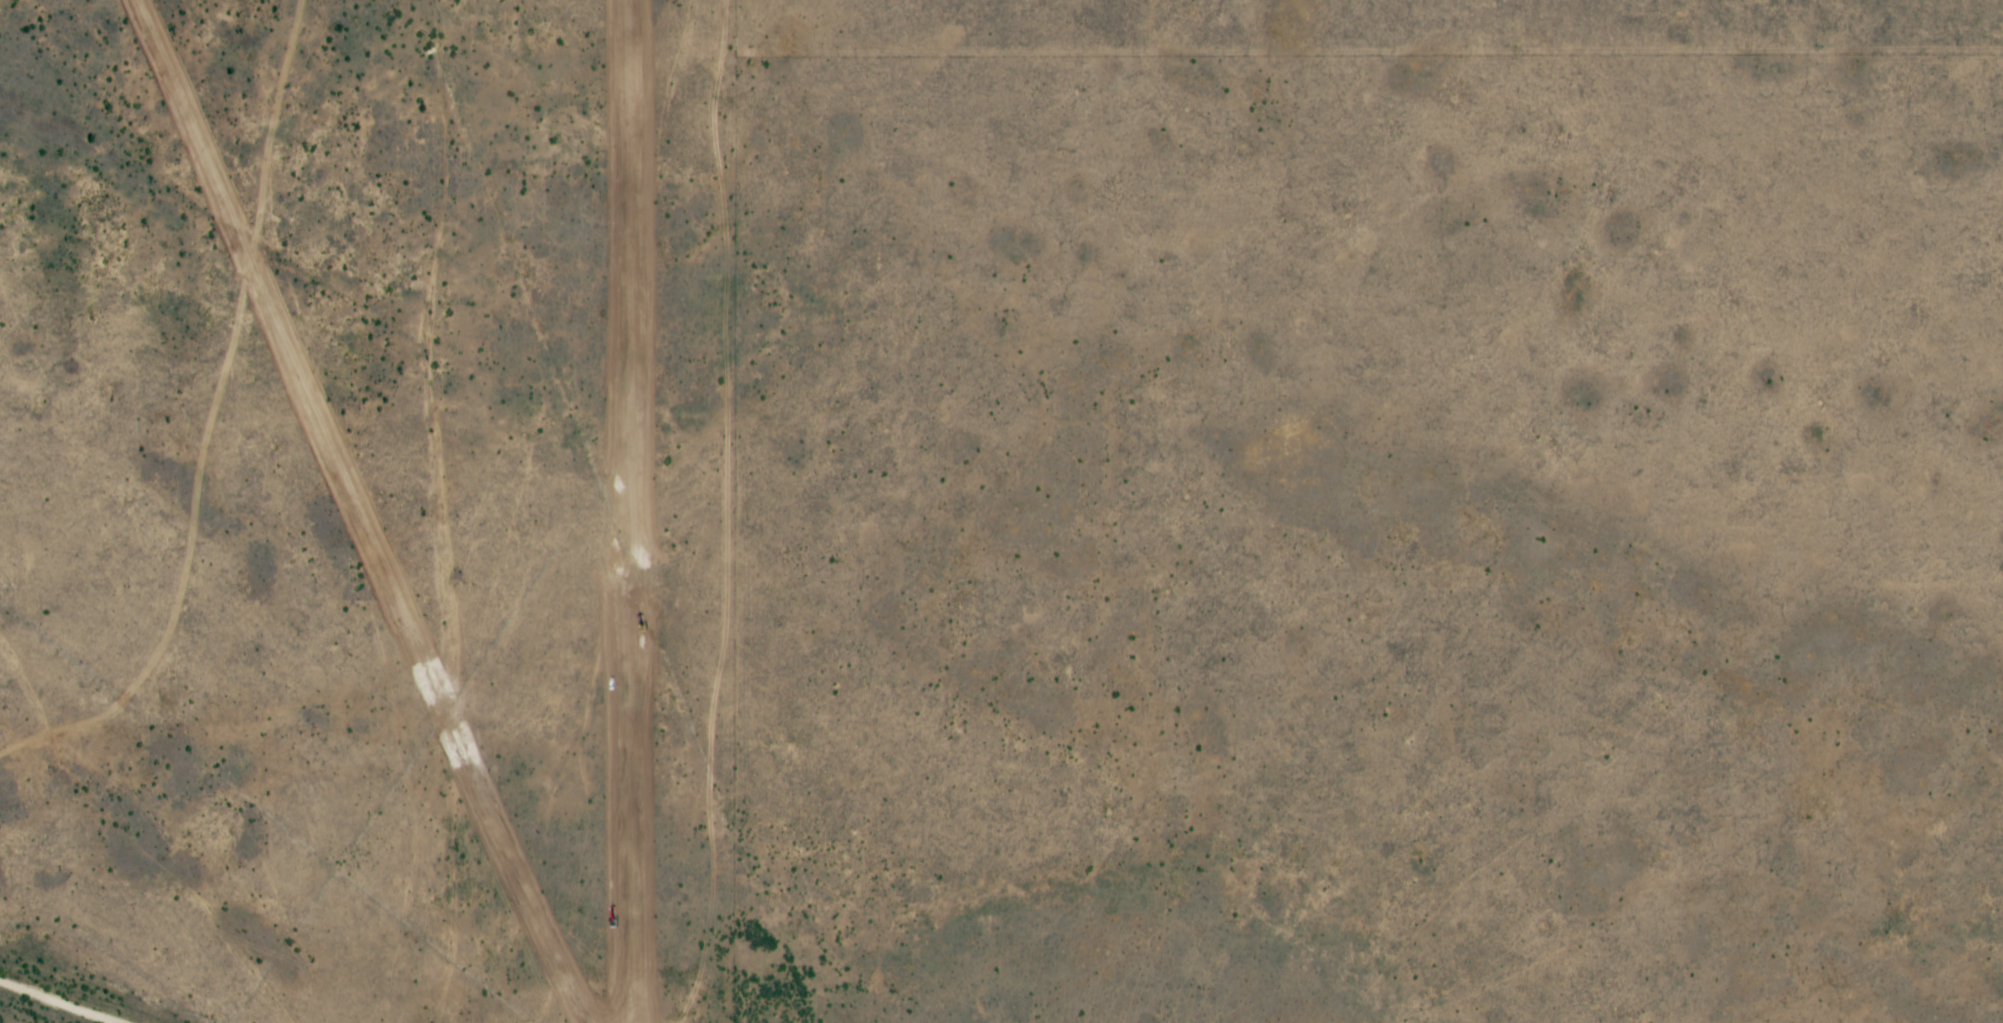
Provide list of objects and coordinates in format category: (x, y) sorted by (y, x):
road: (147, 967)

